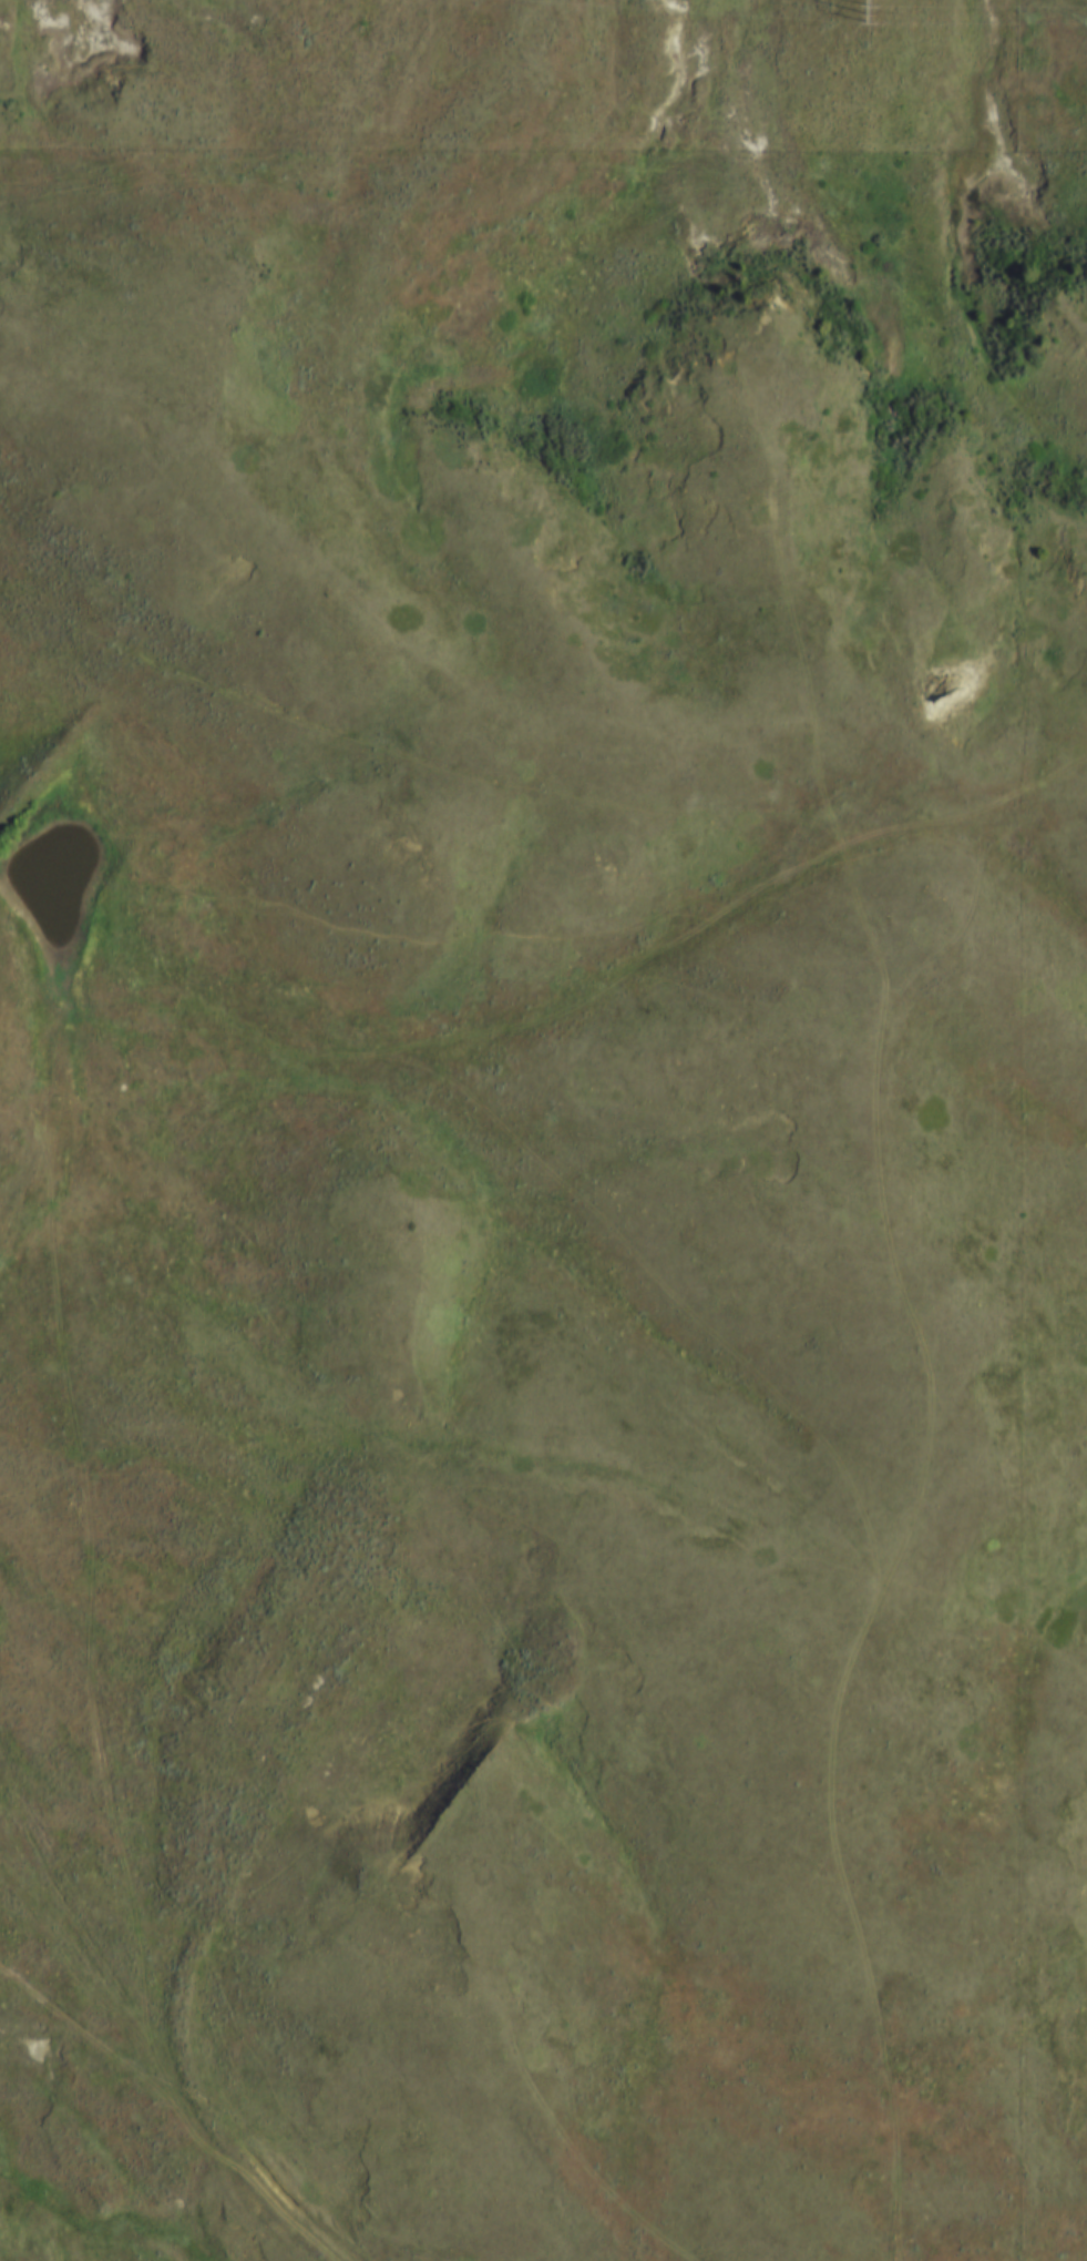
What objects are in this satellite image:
power tower: (873, 9)
road: (112, 1789)
road: (76, 1913)

